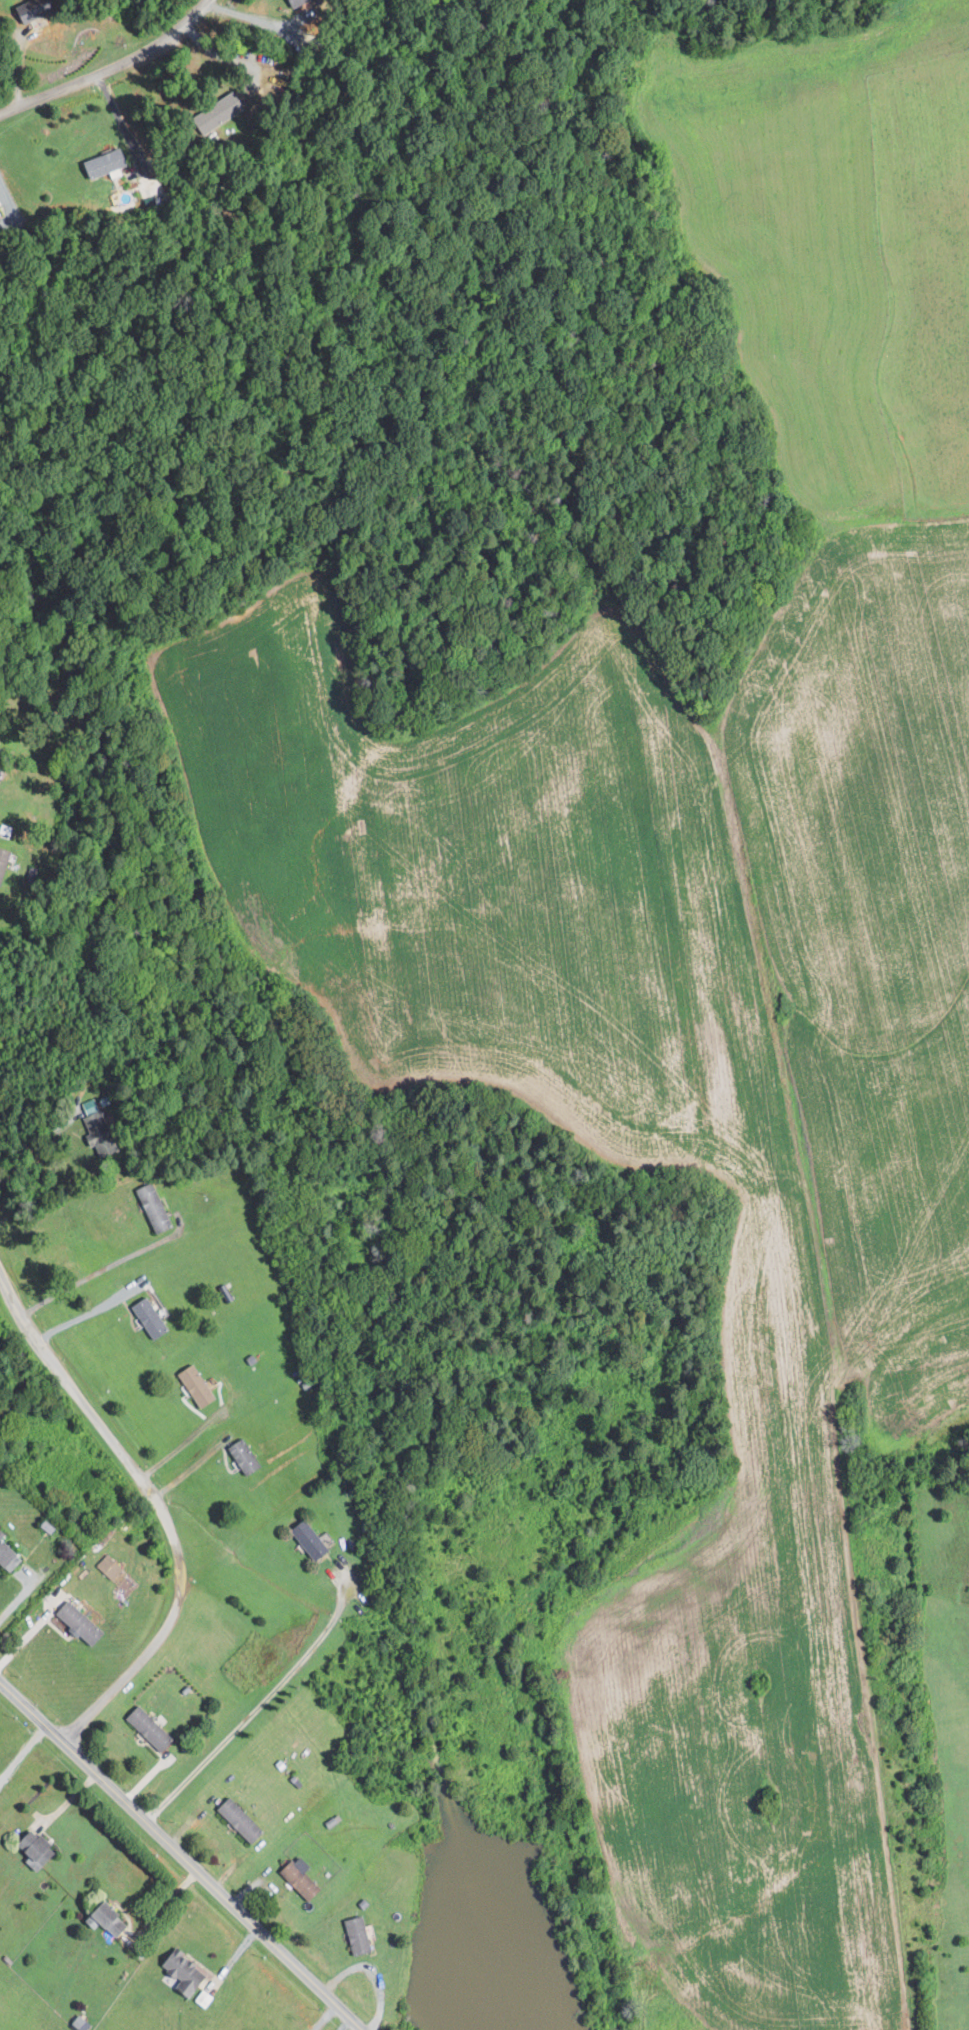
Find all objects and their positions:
building: (297, 2)
road: (263, 22)
road: (226, 55)
road: (113, 66)
road: (120, 122)
building: (107, 163)
road: (8, 201)
building: (1, 204)
building: (5, 863)
road: (37, 1136)
building: (109, 1147)
building: (155, 1207)
road: (106, 1267)
road: (86, 1312)
building: (152, 1317)
building: (200, 1385)
building: (246, 1456)
road: (191, 1468)
road: (157, 1509)
building: (313, 1539)
building: (9, 1554)
building: (112, 1566)
road: (19, 1598)
building: (84, 1623)
road: (28, 1633)
road: (263, 1699)
building: (152, 1728)
road: (22, 1753)
building: (243, 1820)
building: (40, 1849)
road: (181, 1855)
building: (303, 1877)
road: (165, 1903)
building: (112, 1919)
building: (361, 1935)
building: (188, 1972)
building: (82, 2023)
road: (346, 2024)

